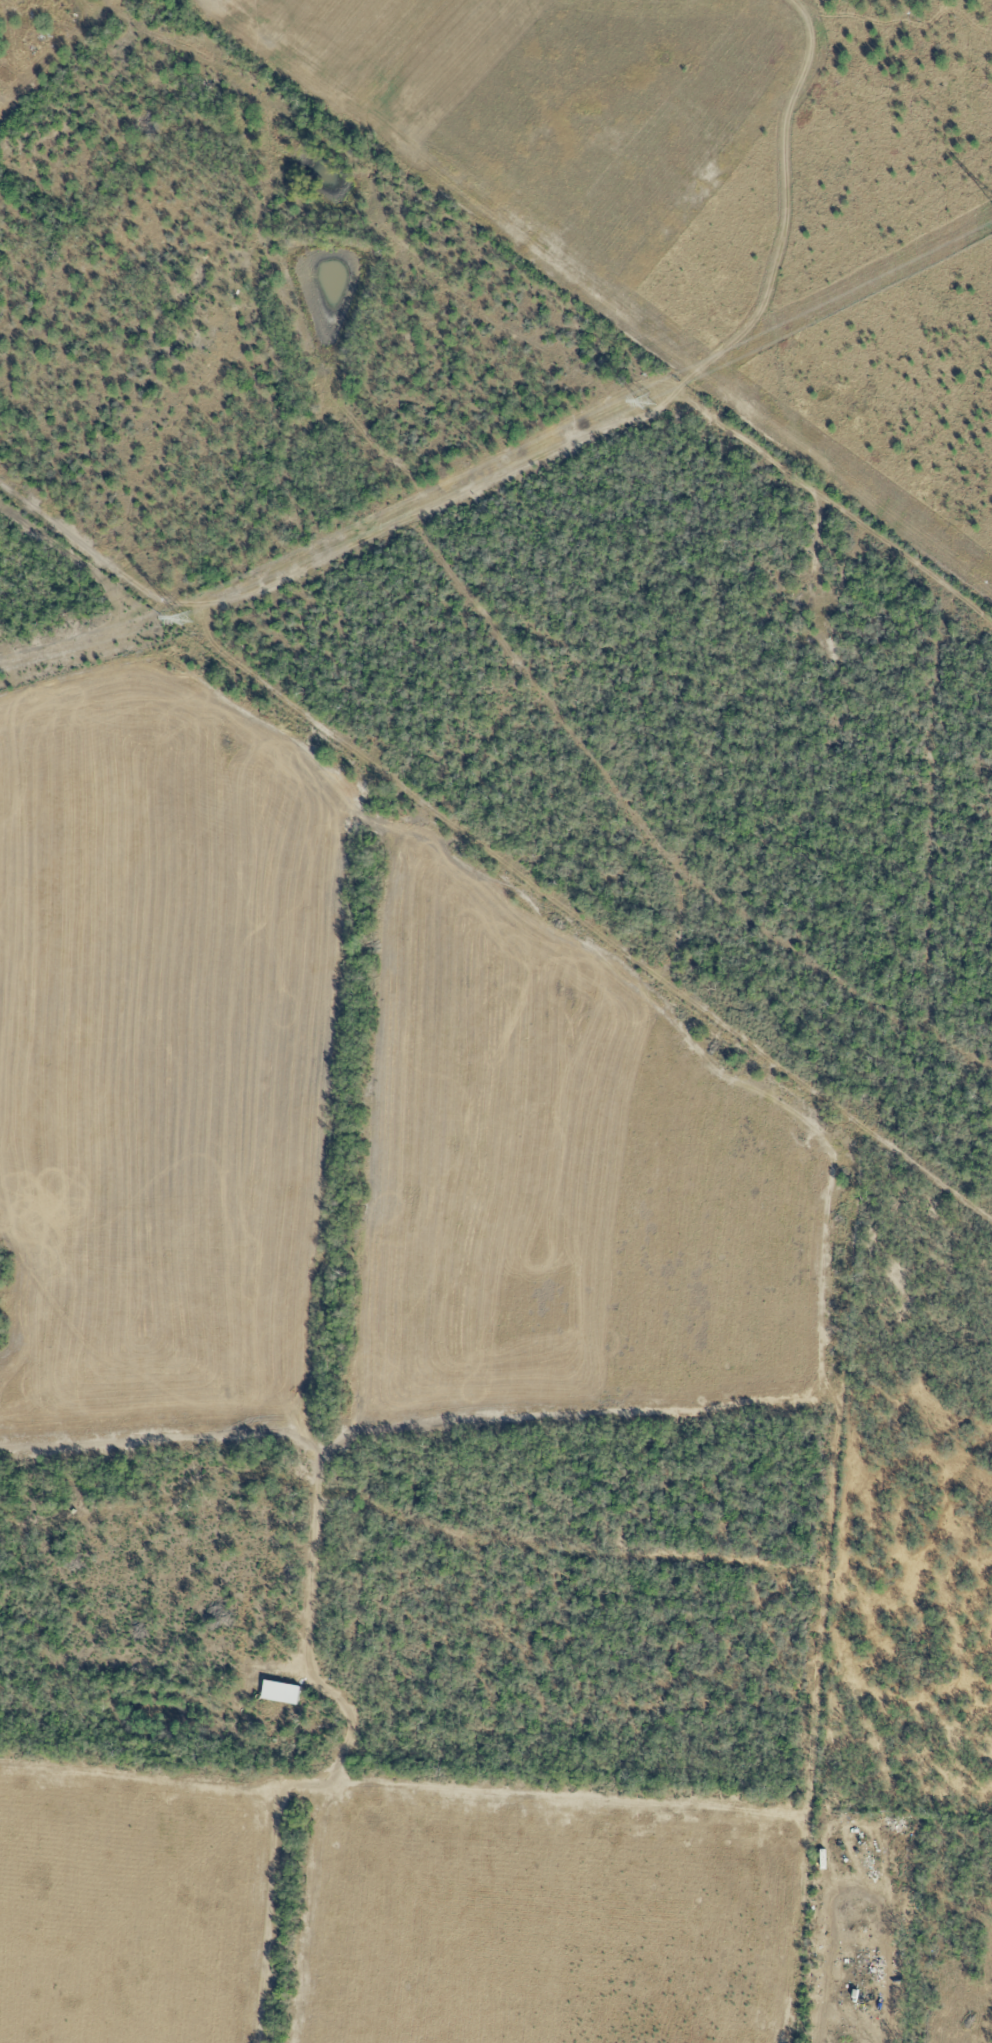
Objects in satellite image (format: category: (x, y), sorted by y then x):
power tower: (657, 406)
power tower: (192, 622)
building: (282, 1692)
road: (277, 1831)

